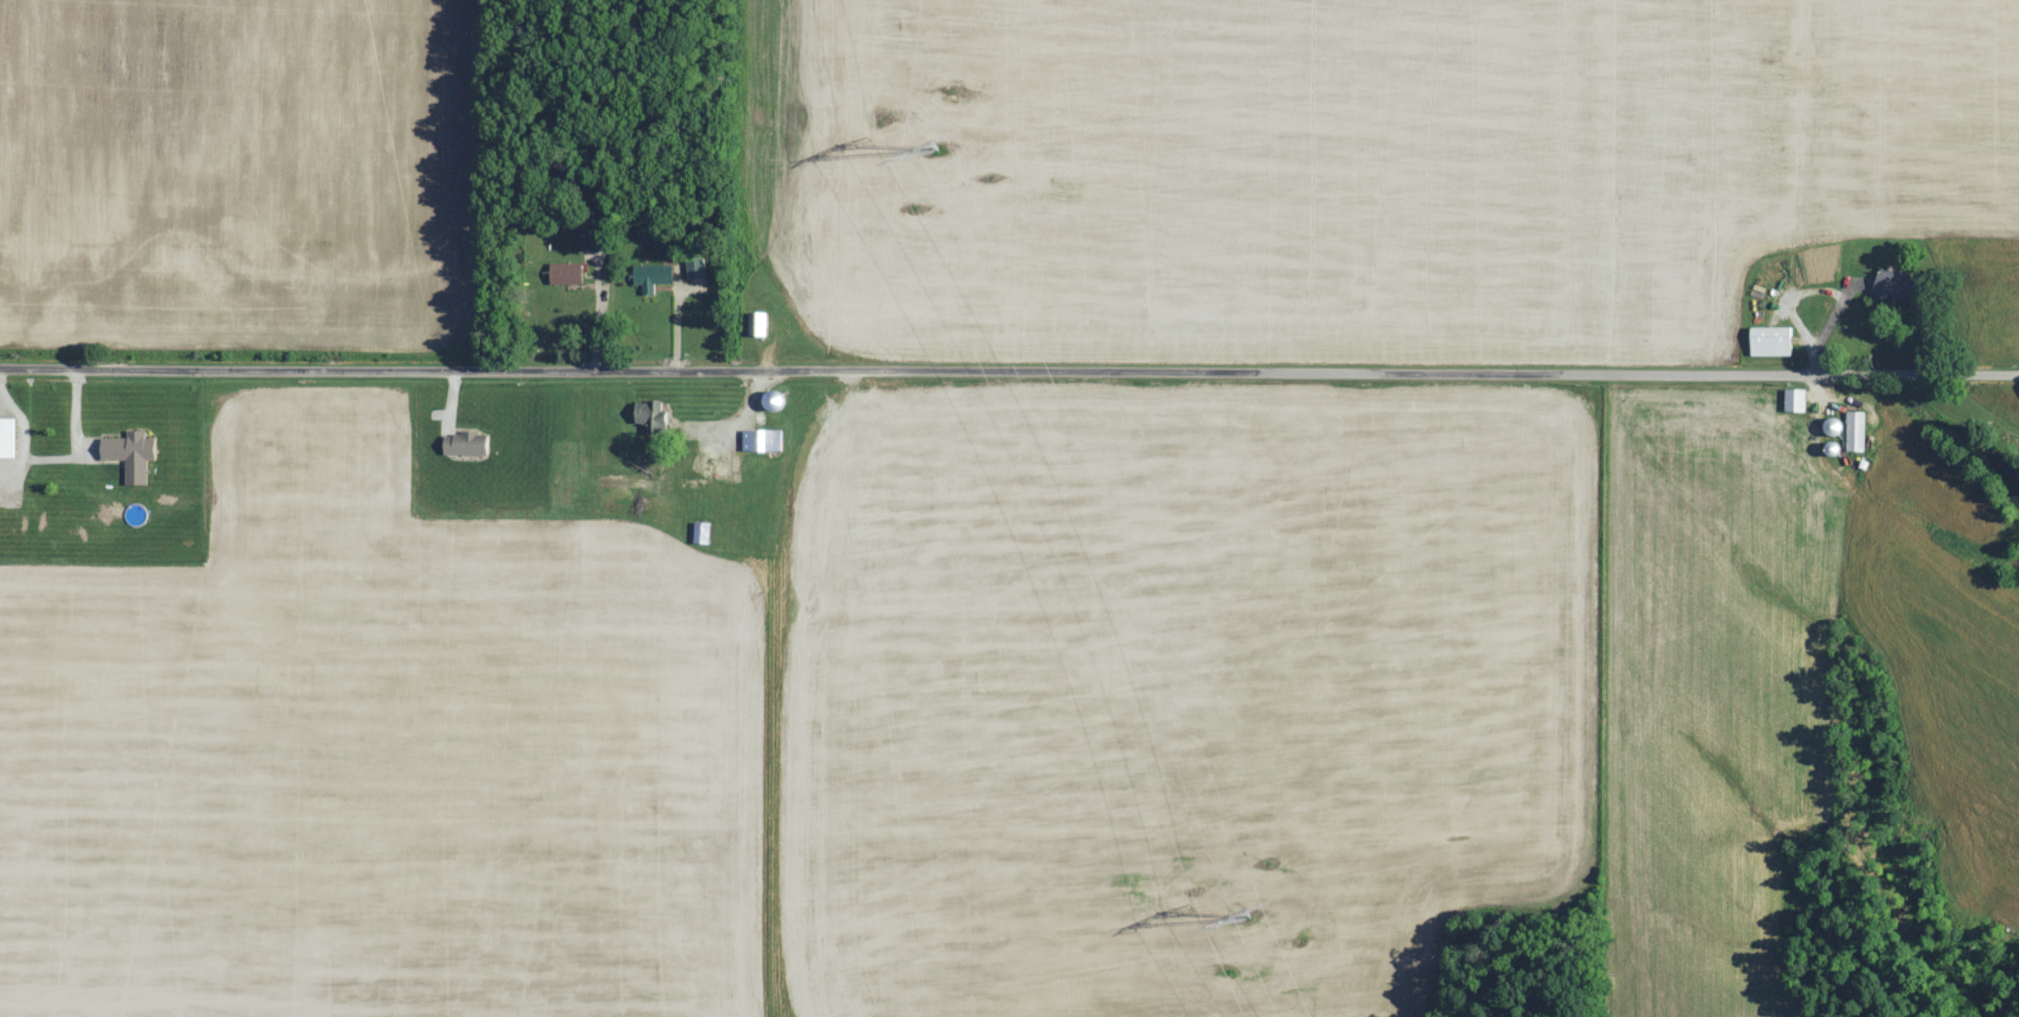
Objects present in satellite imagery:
power tower: (943, 151)
building: (593, 240)
building: (696, 268)
building: (567, 274)
building: (653, 277)
building: (1897, 287)
building: (759, 325)
building: (1773, 342)
road: (1009, 372)
building: (1797, 401)
building: (648, 413)
road: (727, 426)
building: (1857, 432)
building: (6, 439)
building: (763, 441)
building: (469, 445)
building: (132, 455)
power tower: (1243, 915)

